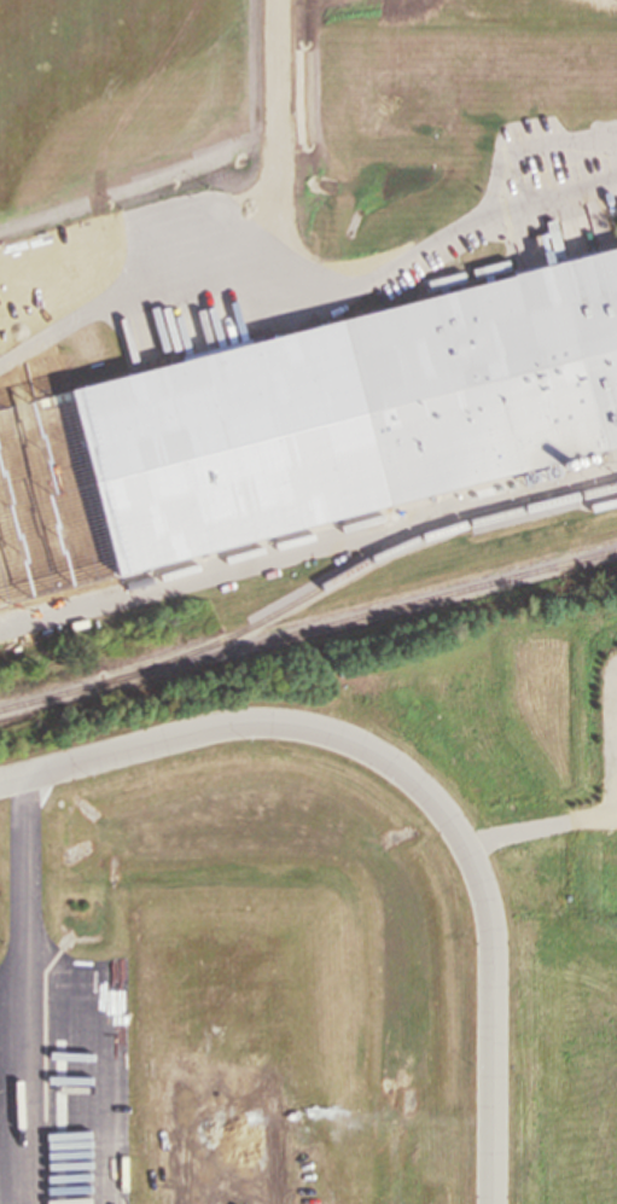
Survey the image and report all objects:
road: (495, 208)
building: (495, 378)
railway: (357, 568)
railway: (308, 633)
road: (421, 780)
road: (31, 989)

